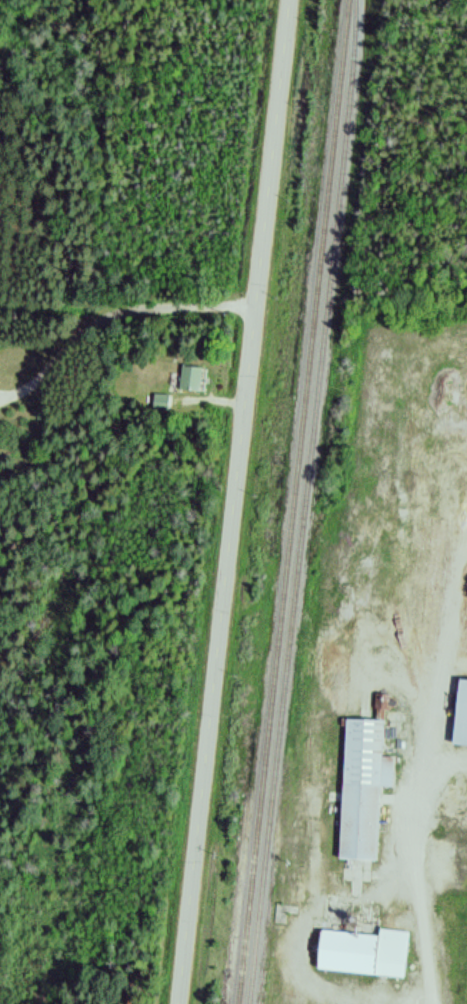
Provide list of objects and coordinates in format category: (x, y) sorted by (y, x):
road: (122, 327)
building: (189, 378)
building: (160, 401)
railway: (294, 501)
road: (235, 502)
railway: (303, 502)
building: (459, 714)
building: (361, 787)
building: (361, 953)

